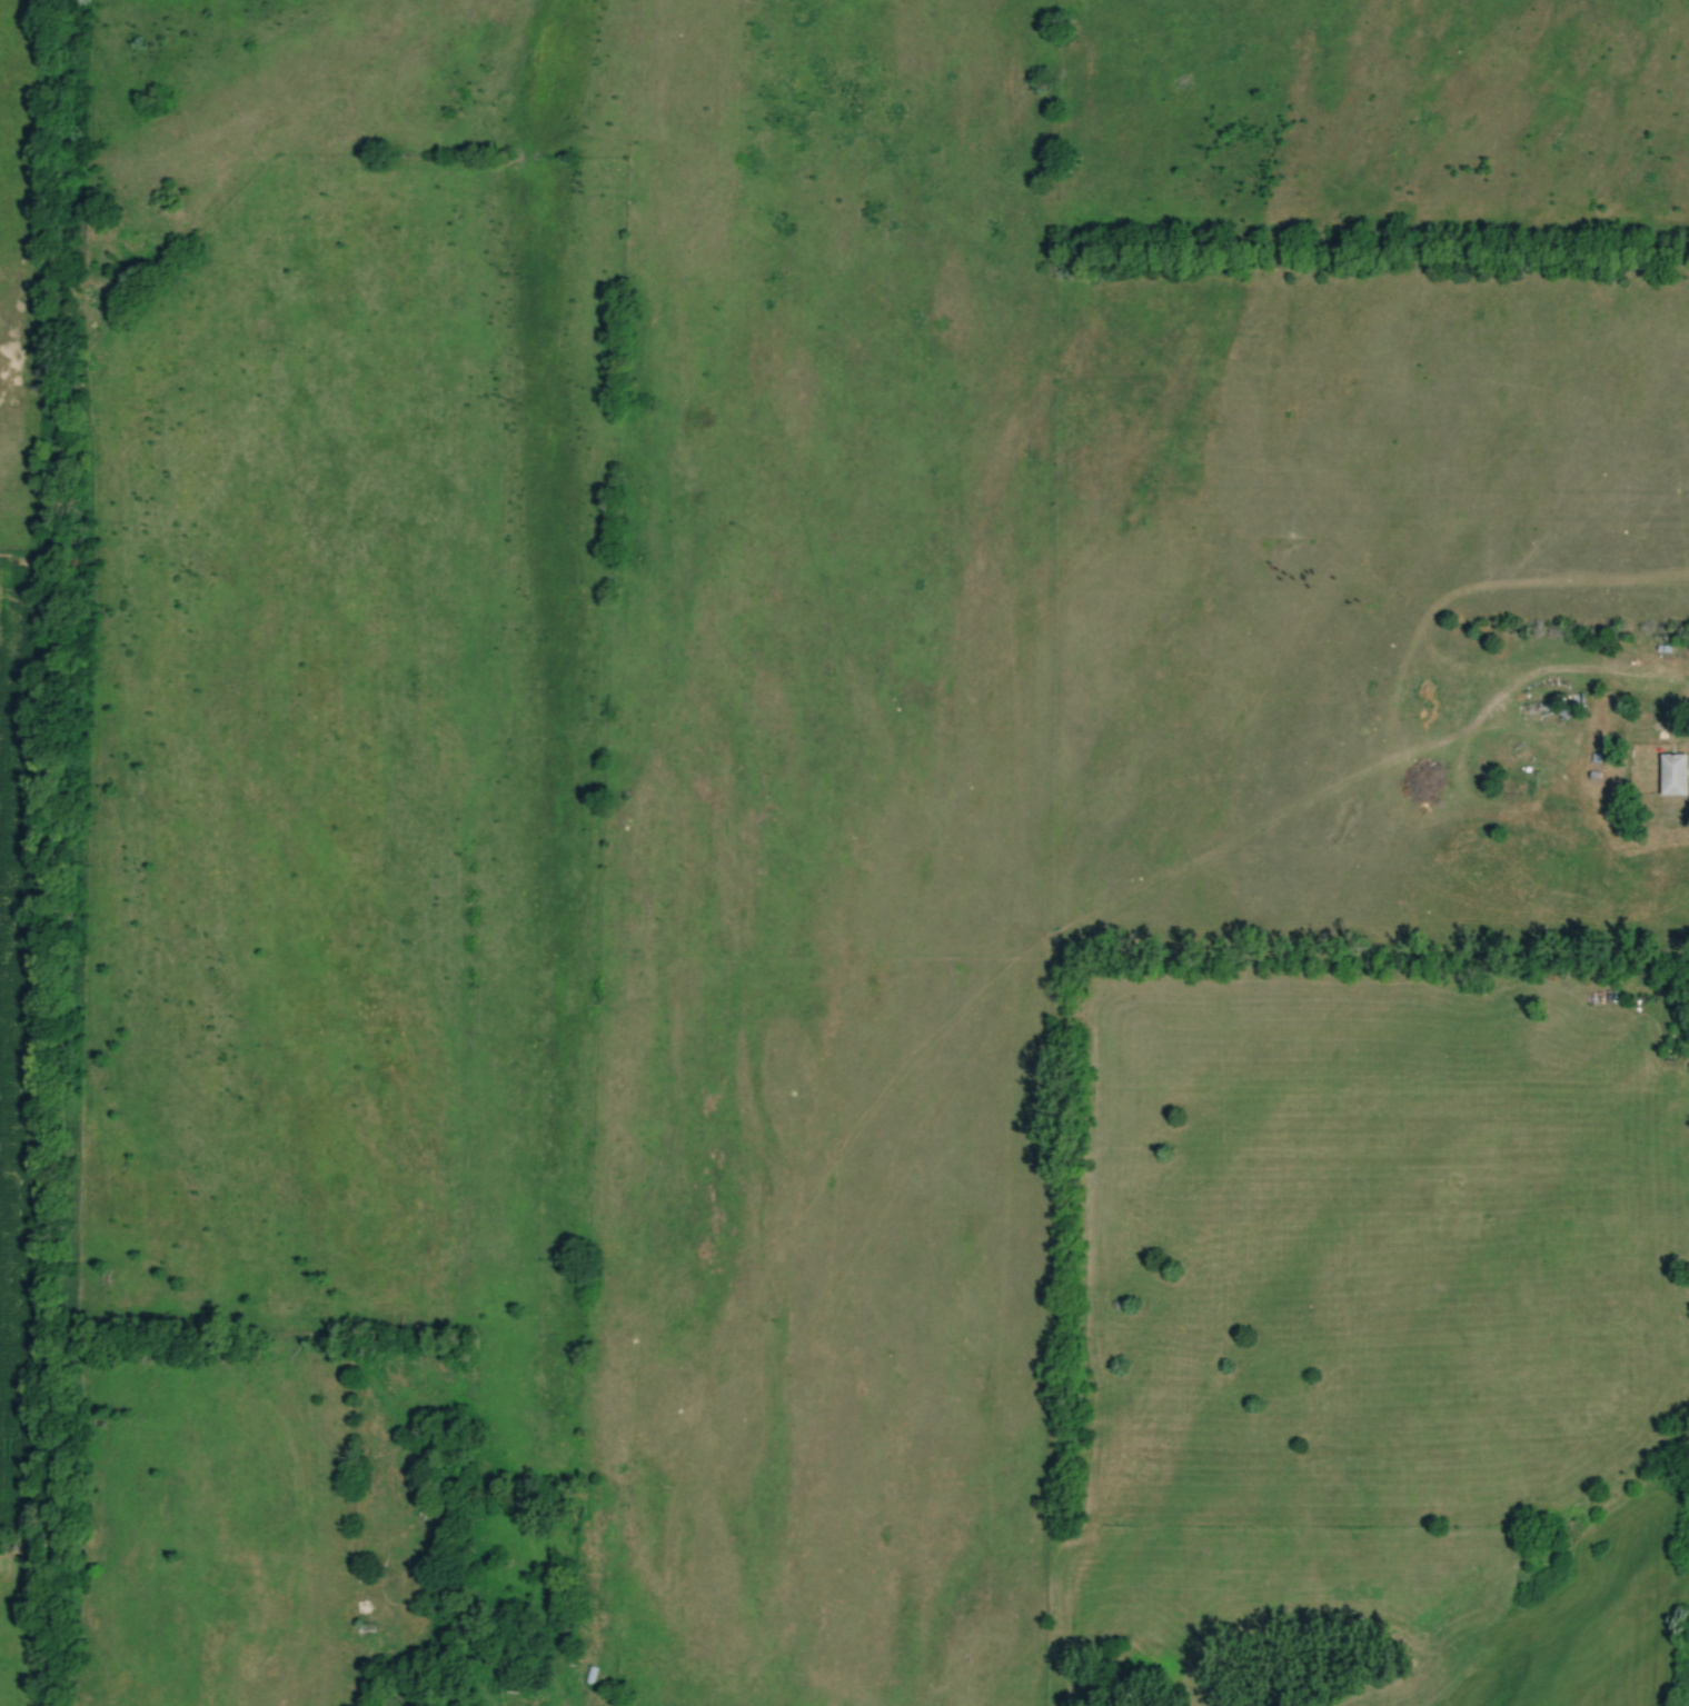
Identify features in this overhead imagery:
building: (1532, 712)
building: (1567, 715)
building: (1676, 774)

